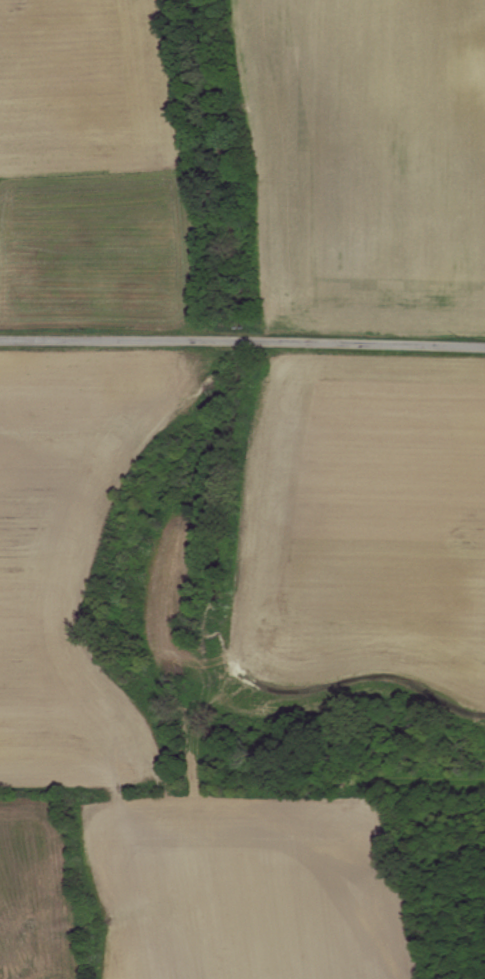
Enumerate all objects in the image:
road: (242, 341)

